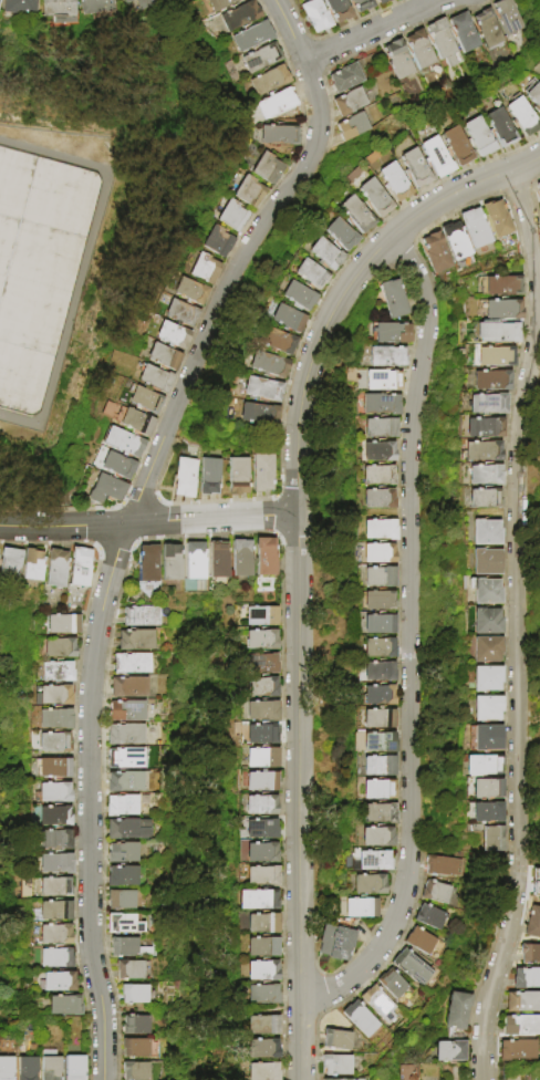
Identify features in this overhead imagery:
building: (125, 1)
building: (382, 1)
building: (145, 3)
building: (220, 4)
building: (94, 6)
building: (362, 6)
building: (19, 7)
building: (58, 10)
building: (339, 10)
building: (315, 15)
building: (239, 17)
building: (508, 17)
building: (487, 29)
building: (463, 32)
road: (375, 33)
building: (251, 37)
building: (442, 42)
building: (419, 50)
building: (260, 59)
building: (397, 60)
building: (539, 77)
building: (345, 79)
building: (268, 81)
building: (533, 96)
building: (350, 102)
building: (276, 104)
building: (522, 116)
building: (352, 127)
building: (500, 128)
building: (279, 135)
building: (479, 137)
building: (456, 146)
building: (436, 157)
building: (267, 168)
building: (415, 168)
building: (394, 181)
building: (538, 189)
building: (248, 191)
building: (374, 198)
building: (355, 215)
building: (232, 217)
building: (498, 219)
building: (476, 228)
building: (340, 235)
building: (456, 241)
building: (217, 242)
building: (436, 253)
building: (325, 255)
road: (84, 262)
building: (204, 269)
building: (310, 276)
building: (29, 280)
road: (347, 287)
building: (502, 287)
building: (189, 291)
building: (298, 297)
building: (393, 299)
building: (502, 310)
building: (180, 313)
building: (287, 320)
building: (392, 334)
building: (498, 334)
building: (172, 335)
building: (276, 341)
building: (163, 356)
building: (386, 357)
building: (495, 357)
building: (269, 365)
building: (153, 378)
building: (383, 381)
building: (491, 381)
building: (263, 390)
building: (144, 401)
building: (381, 405)
building: (487, 405)
building: (260, 414)
building: (127, 419)
building: (381, 428)
building: (485, 429)
building: (122, 443)
building: (482, 451)
building: (378, 453)
building: (116, 466)
building: (262, 472)
building: (378, 476)
building: (486, 476)
building: (210, 477)
building: (239, 477)
building: (186, 478)
building: (105, 490)
building: (378, 499)
building: (485, 500)
road: (134, 516)
road: (150, 521)
building: (380, 530)
building: (487, 533)
building: (377, 553)
building: (266, 558)
building: (241, 559)
building: (218, 560)
building: (196, 561)
building: (172, 562)
building: (148, 563)
building: (487, 563)
building: (9, 564)
building: (32, 565)
building: (80, 568)
building: (55, 569)
building: (378, 578)
building: (486, 592)
building: (377, 601)
building: (260, 616)
building: (142, 617)
building: (487, 622)
building: (62, 625)
building: (378, 625)
road: (518, 625)
road: (413, 640)
building: (136, 641)
building: (260, 641)
building: (378, 648)
building: (58, 650)
building: (487, 650)
building: (260, 664)
building: (131, 665)
building: (377, 672)
building: (55, 673)
building: (487, 679)
building: (128, 688)
building: (260, 688)
building: (378, 696)
building: (52, 697)
building: (487, 709)
building: (127, 712)
building: (261, 712)
building: (378, 719)
building: (54, 720)
building: (260, 735)
building: (125, 736)
building: (485, 739)
building: (378, 742)
building: (53, 744)
building: (126, 759)
building: (261, 759)
building: (482, 766)
building: (378, 767)
building: (53, 769)
building: (125, 782)
building: (260, 782)
building: (377, 790)
building: (487, 790)
building: (54, 793)
road: (301, 796)
building: (260, 806)
building: (122, 807)
building: (378, 813)
building: (487, 813)
building: (54, 818)
building: (128, 830)
building: (260, 830)
building: (377, 838)
building: (492, 839)
building: (53, 841)
building: (260, 853)
building: (123, 854)
building: (373, 861)
building: (54, 865)
building: (443, 868)
building: (123, 877)
building: (261, 877)
building: (539, 879)
building: (368, 885)
building: (53, 889)
building: (436, 893)
building: (121, 901)
building: (256, 901)
building: (361, 908)
building: (53, 912)
building: (429, 918)
building: (533, 923)
building: (261, 924)
building: (124, 925)
building: (54, 936)
building: (341, 944)
building: (425, 945)
building: (260, 947)
building: (129, 949)
building: (530, 954)
building: (54, 959)
building: (413, 967)
building: (131, 970)
building: (260, 972)
building: (526, 978)
building: (58, 984)
building: (392, 984)
building: (134, 995)
building: (261, 995)
building: (522, 1001)
building: (378, 1005)
building: (64, 1007)
building: (455, 1010)
building: (361, 1019)
building: (520, 1025)
building: (136, 1026)
building: (261, 1026)
building: (336, 1040)
building: (136, 1049)
building: (261, 1049)
building: (518, 1050)
building: (448, 1051)
building: (336, 1066)
building: (6, 1067)
building: (50, 1068)
building: (73, 1068)
building: (27, 1069)
building: (136, 1071)
building: (261, 1071)
building: (12, 1079)
building: (334, 1079)

